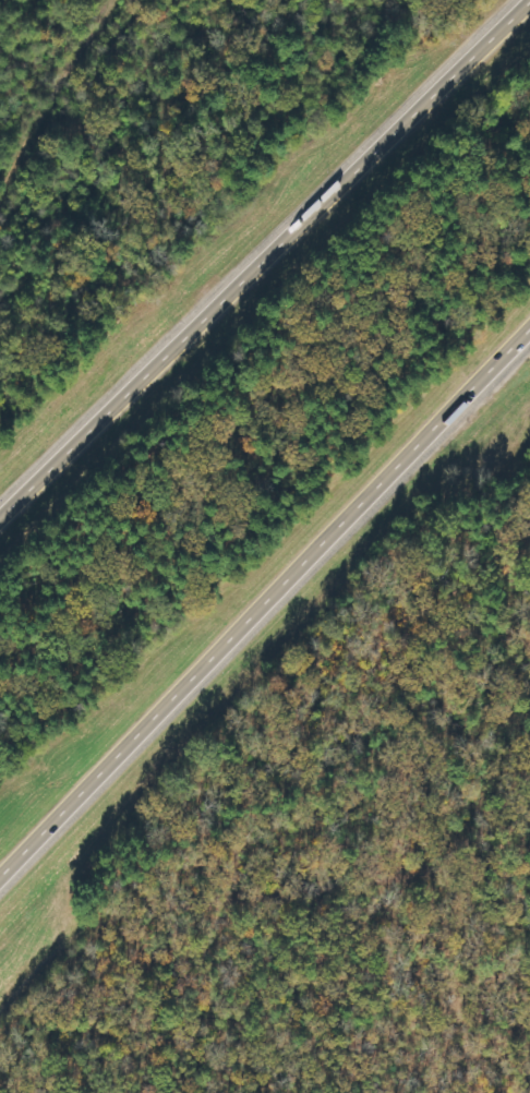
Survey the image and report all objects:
road: (265, 259)
road: (264, 604)

